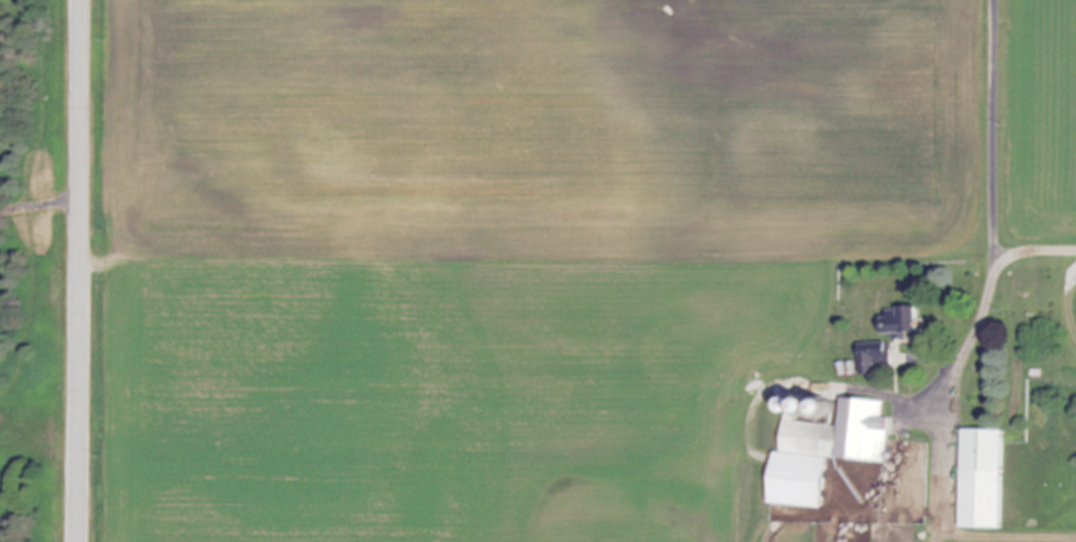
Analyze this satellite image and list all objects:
road: (41, 208)
road: (1031, 248)
road: (80, 270)
road: (1067, 298)
building: (901, 323)
road: (971, 330)
building: (875, 358)
building: (830, 452)
building: (986, 480)

